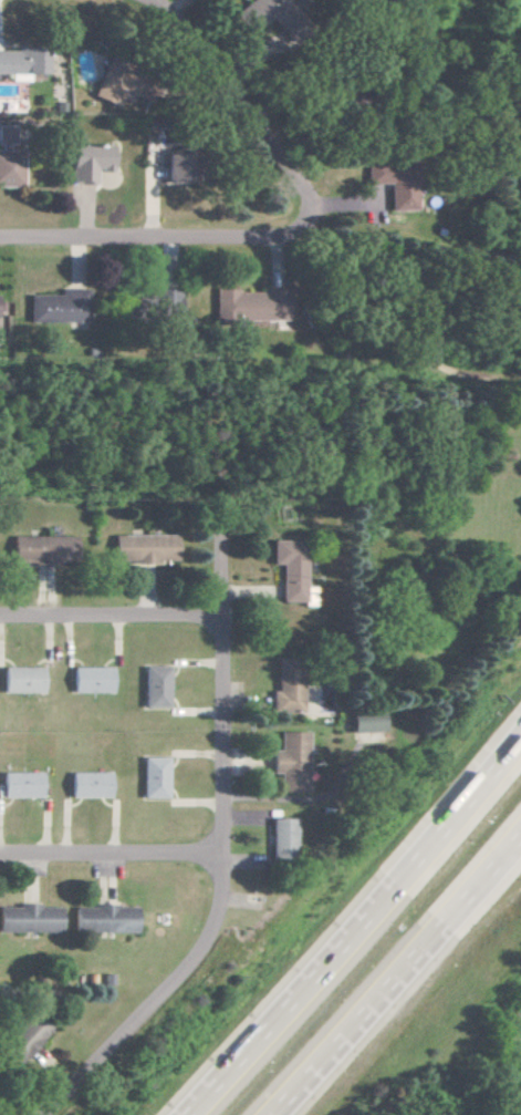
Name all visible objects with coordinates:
building: (253, 11)
building: (20, 61)
building: (104, 87)
road: (237, 103)
building: (8, 159)
building: (86, 162)
building: (372, 173)
building: (399, 197)
road: (340, 203)
road: (155, 237)
building: (164, 300)
building: (58, 307)
building: (248, 307)
building: (38, 548)
building: (142, 548)
building: (288, 568)
road: (112, 617)
road: (223, 667)
building: (88, 679)
building: (20, 680)
building: (153, 686)
building: (283, 686)
building: (362, 723)
building: (288, 762)
building: (152, 777)
building: (87, 784)
building: (19, 785)
road: (111, 857)
building: (30, 917)
building: (106, 917)
road: (356, 927)
road: (396, 975)
road: (159, 997)
building: (24, 1036)

